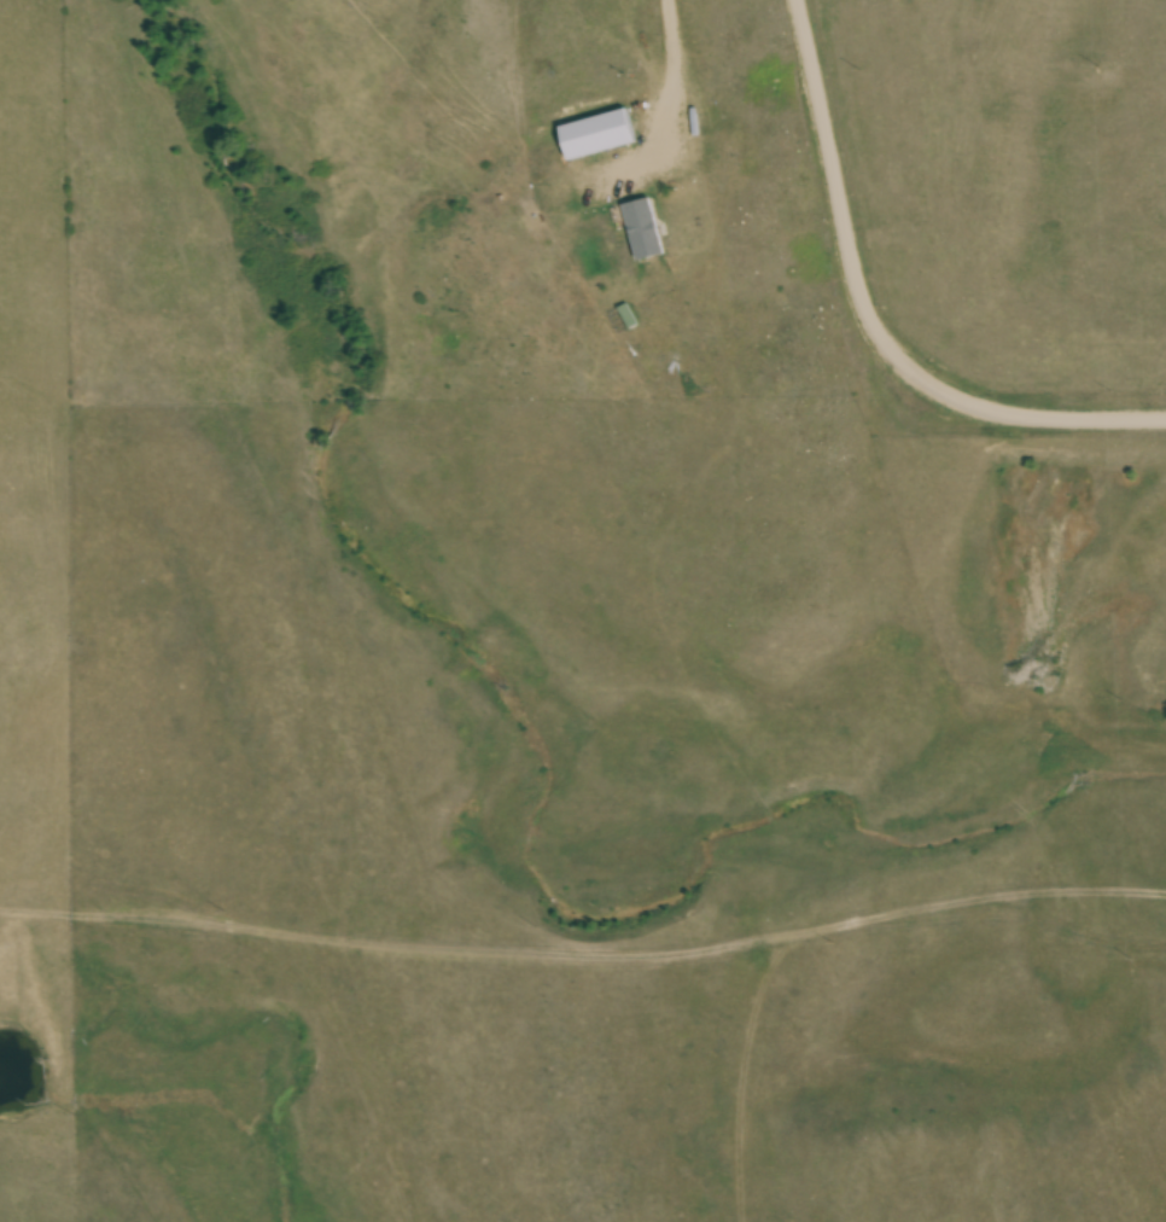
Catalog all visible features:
building: (596, 135)
building: (643, 231)
road: (876, 316)

